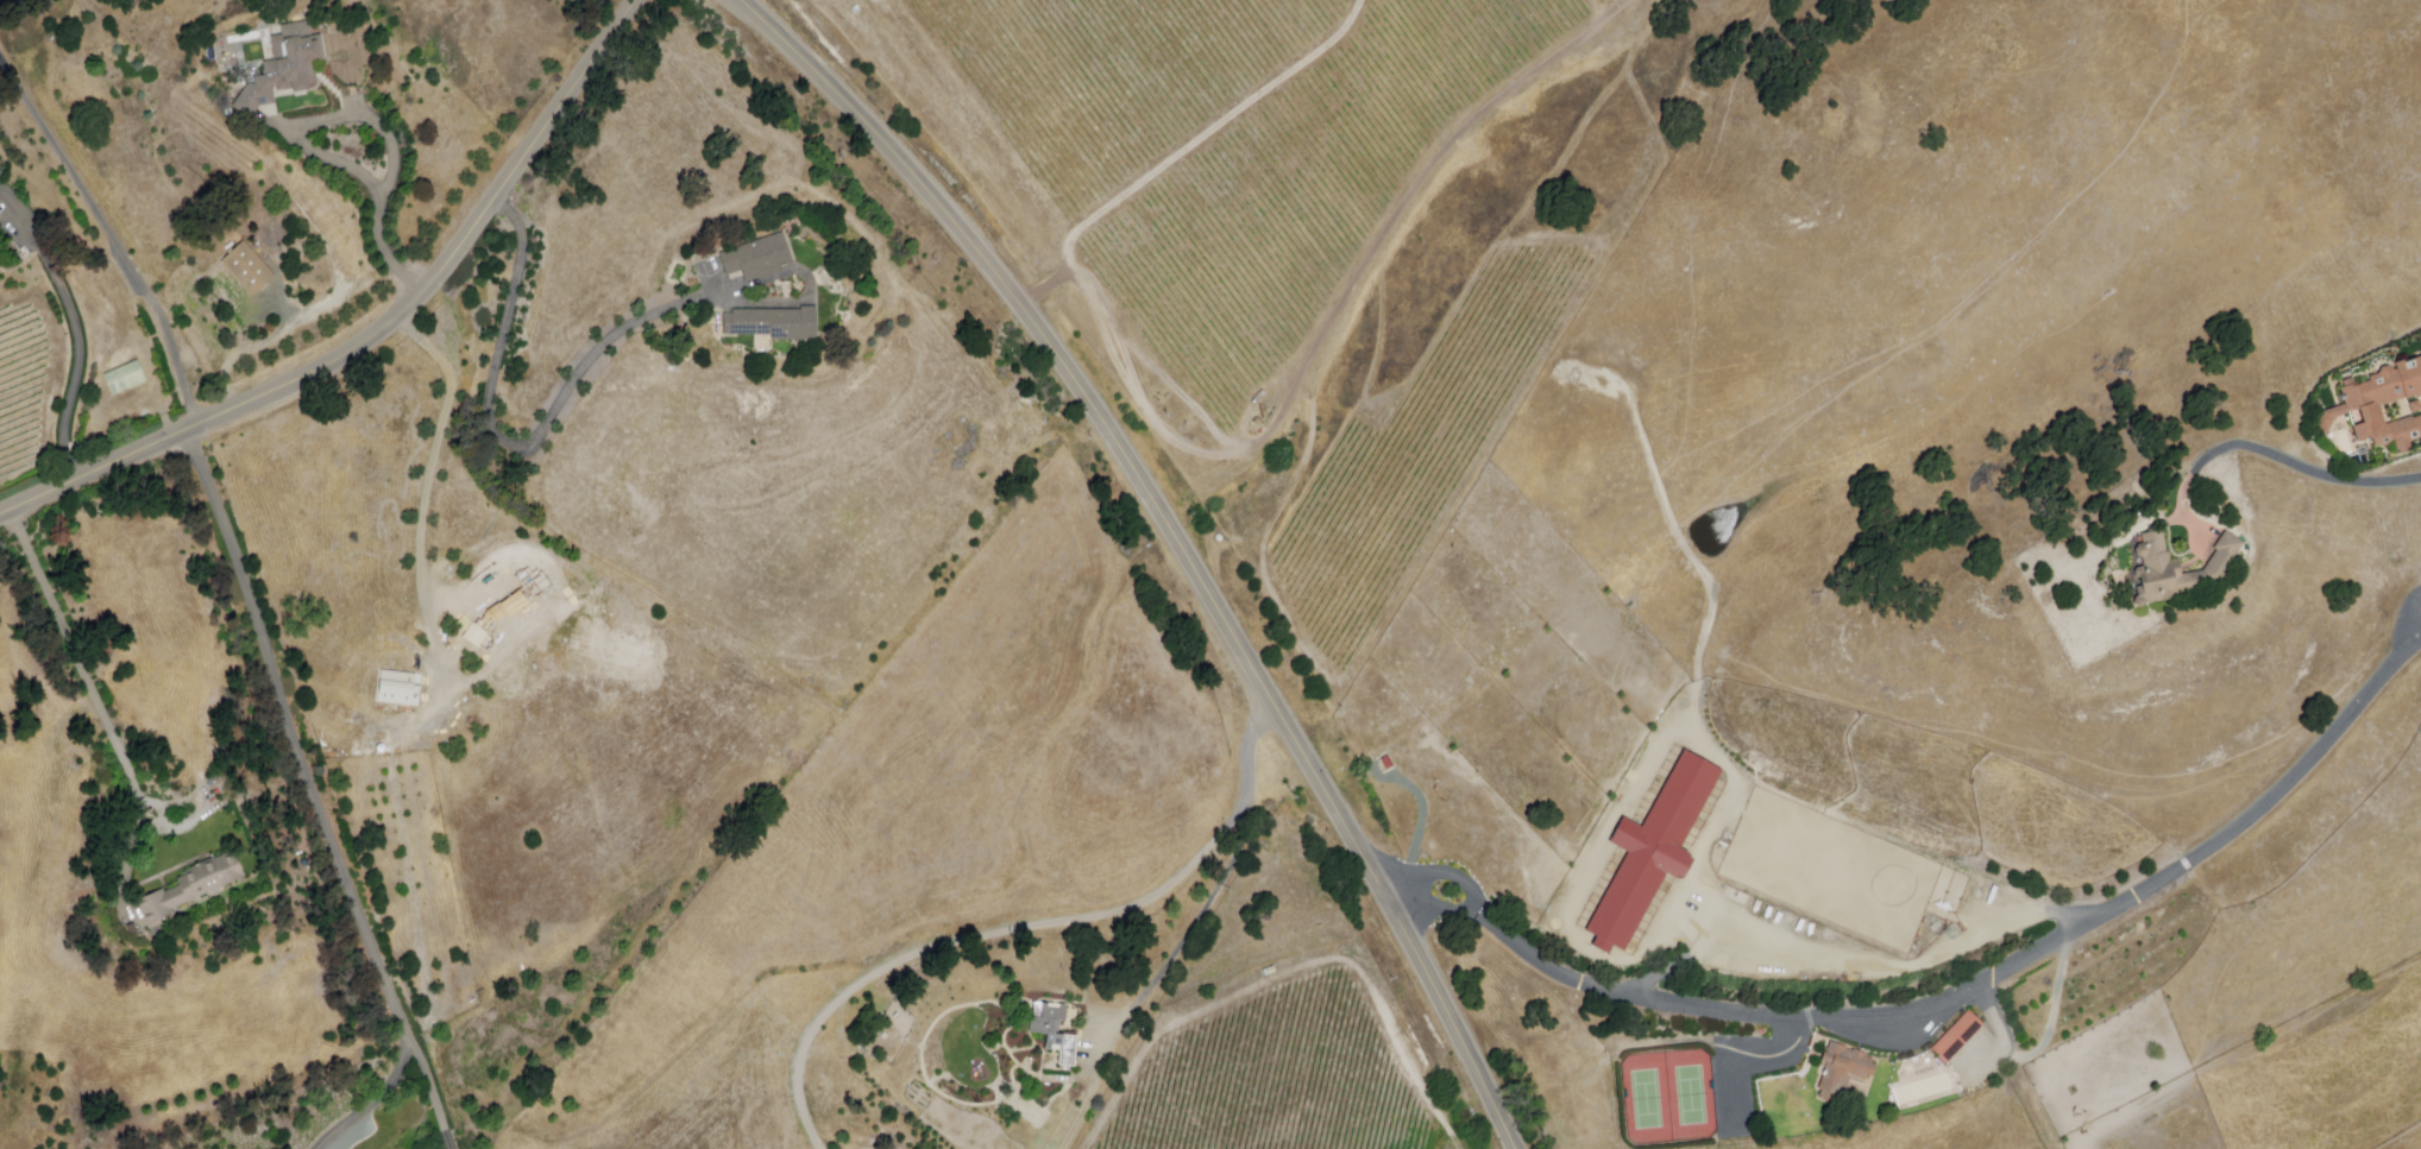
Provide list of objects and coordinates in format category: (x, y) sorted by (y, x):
building: (287, 68)
road: (296, 137)
road: (117, 234)
building: (757, 259)
building: (251, 270)
road: (361, 317)
building: (775, 326)
road: (77, 327)
building: (128, 379)
building: (2363, 406)
road: (497, 447)
road: (2302, 468)
crop: (791, 486)
road: (1175, 539)
building: (2178, 570)
road: (2417, 620)
road: (80, 665)
building: (400, 688)
road: (300, 737)
crop: (603, 741)
road: (1252, 743)
building: (1652, 852)
road: (1446, 876)
building: (185, 890)
road: (1438, 905)
road: (981, 941)
road: (1999, 967)
road: (1161, 971)
building: (1049, 1024)
building: (1958, 1037)
building: (1843, 1069)
road: (432, 1096)
park: (1669, 1098)
road: (379, 1099)

